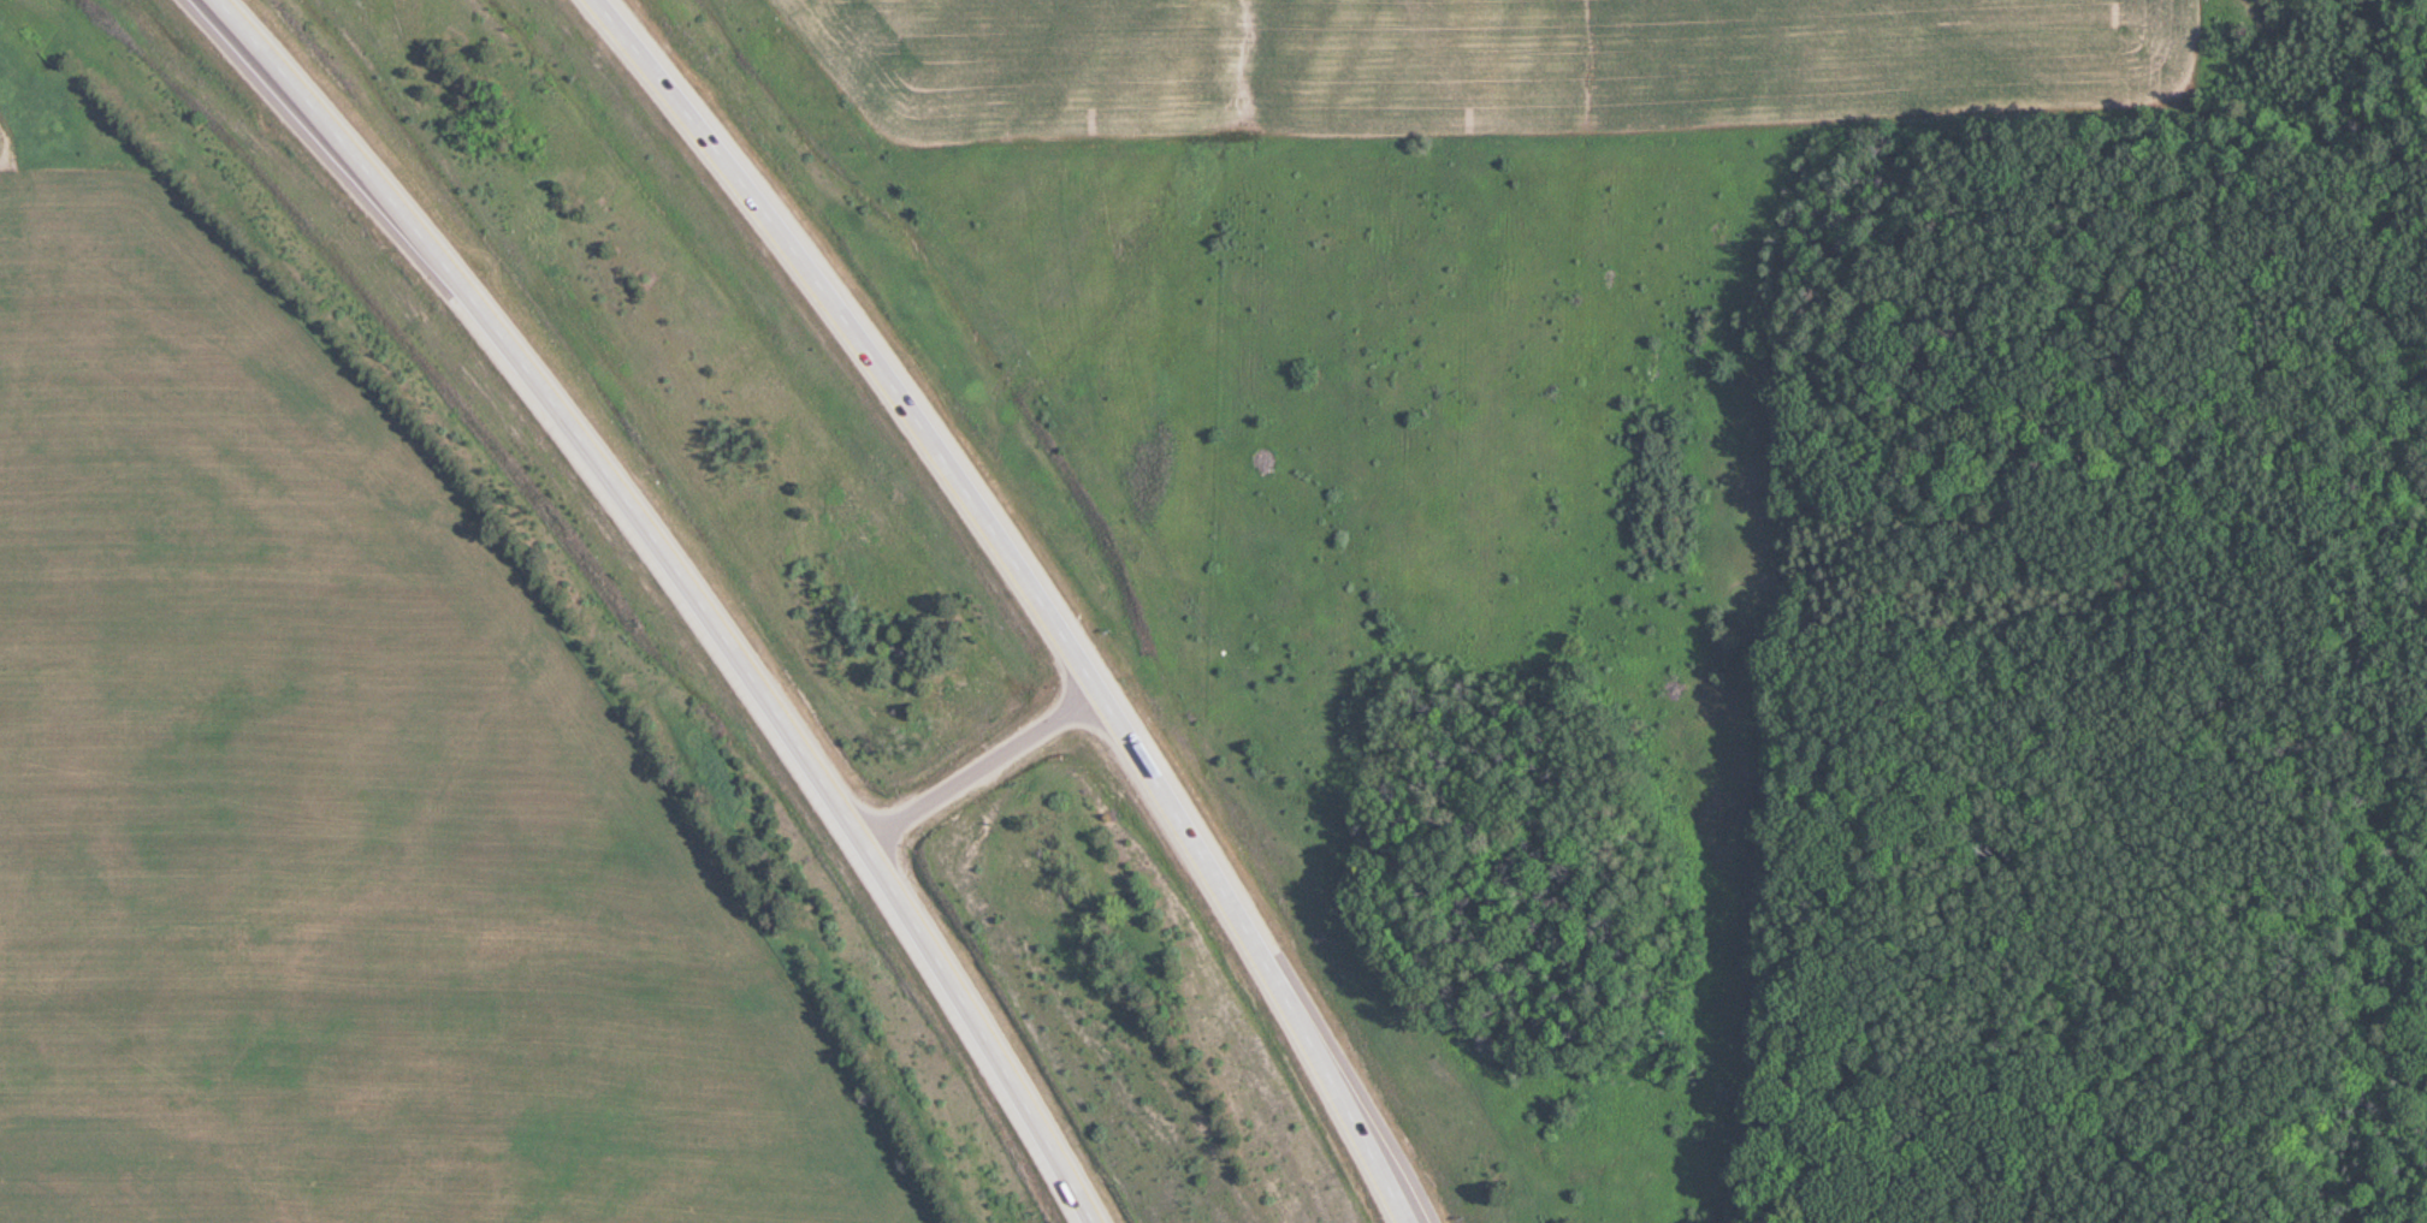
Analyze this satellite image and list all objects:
road: (689, 583)
road: (1040, 588)
road: (989, 777)

